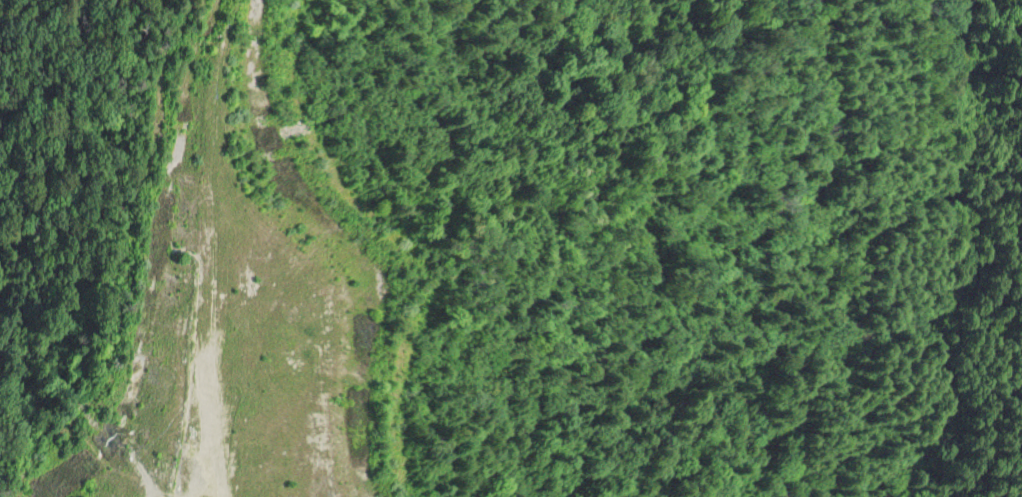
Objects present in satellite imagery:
quarry: (242, 286)

